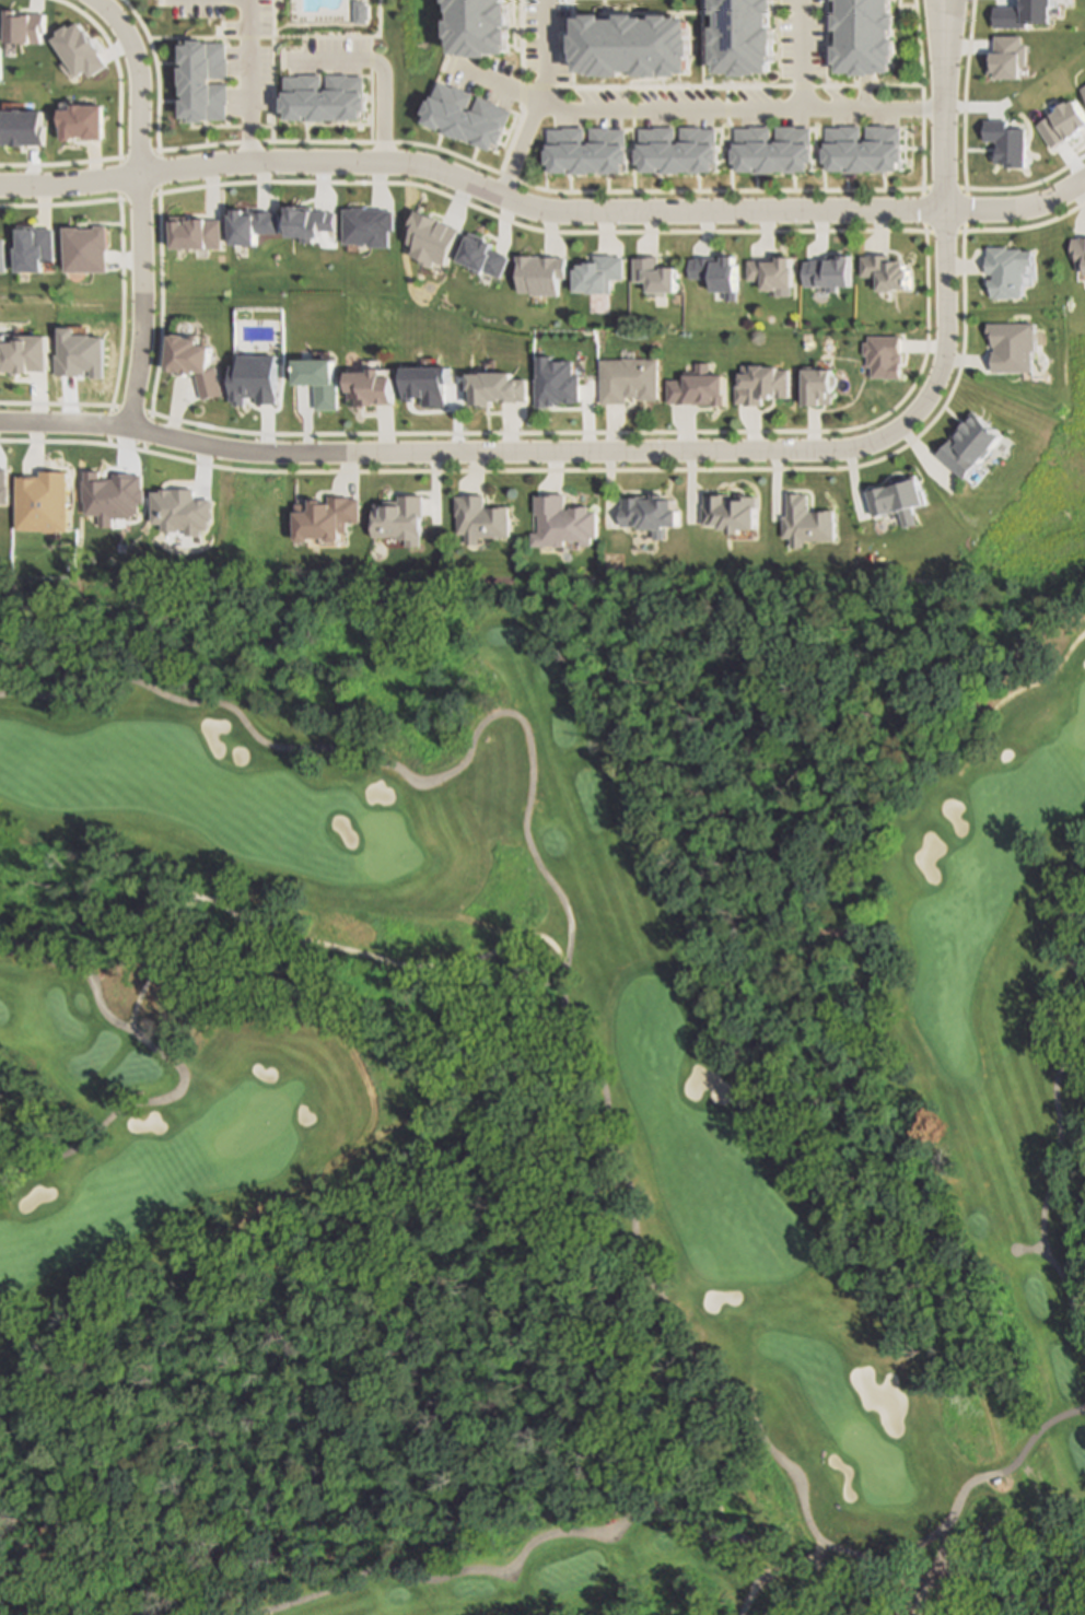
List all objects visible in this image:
road: (940, 0)
road: (941, 0)
building: (1022, 13)
building: (478, 28)
building: (748, 36)
building: (864, 37)
building: (634, 44)
road: (802, 55)
building: (1007, 57)
road: (382, 70)
road: (247, 81)
building: (1083, 90)
road: (537, 102)
road: (693, 112)
road: (157, 117)
building: (465, 120)
building: (1062, 122)
building: (24, 128)
road: (120, 133)
building: (1008, 142)
road: (206, 144)
building: (772, 153)
building: (865, 153)
building: (585, 154)
building: (677, 154)
road: (943, 194)
road: (139, 206)
road: (59, 207)
road: (541, 211)
building: (34, 247)
building: (1080, 251)
building: (1, 255)
building: (1011, 272)
building: (596, 276)
building: (654, 277)
building: (768, 278)
building: (884, 278)
building: (627, 385)
building: (495, 388)
building: (760, 388)
building: (376, 390)
building: (973, 448)
road: (477, 454)
building: (15, 492)
building: (731, 515)
building: (645, 516)
building: (324, 519)
building: (477, 519)
building: (565, 523)
road: (1007, 691)
road: (454, 917)
road: (283, 943)
road: (569, 1033)
road: (175, 1067)
park: (542, 1091)
road: (1054, 1116)
road: (1026, 1249)
road: (453, 1282)
road: (814, 1549)
road: (814, 1563)
road: (498, 1570)

